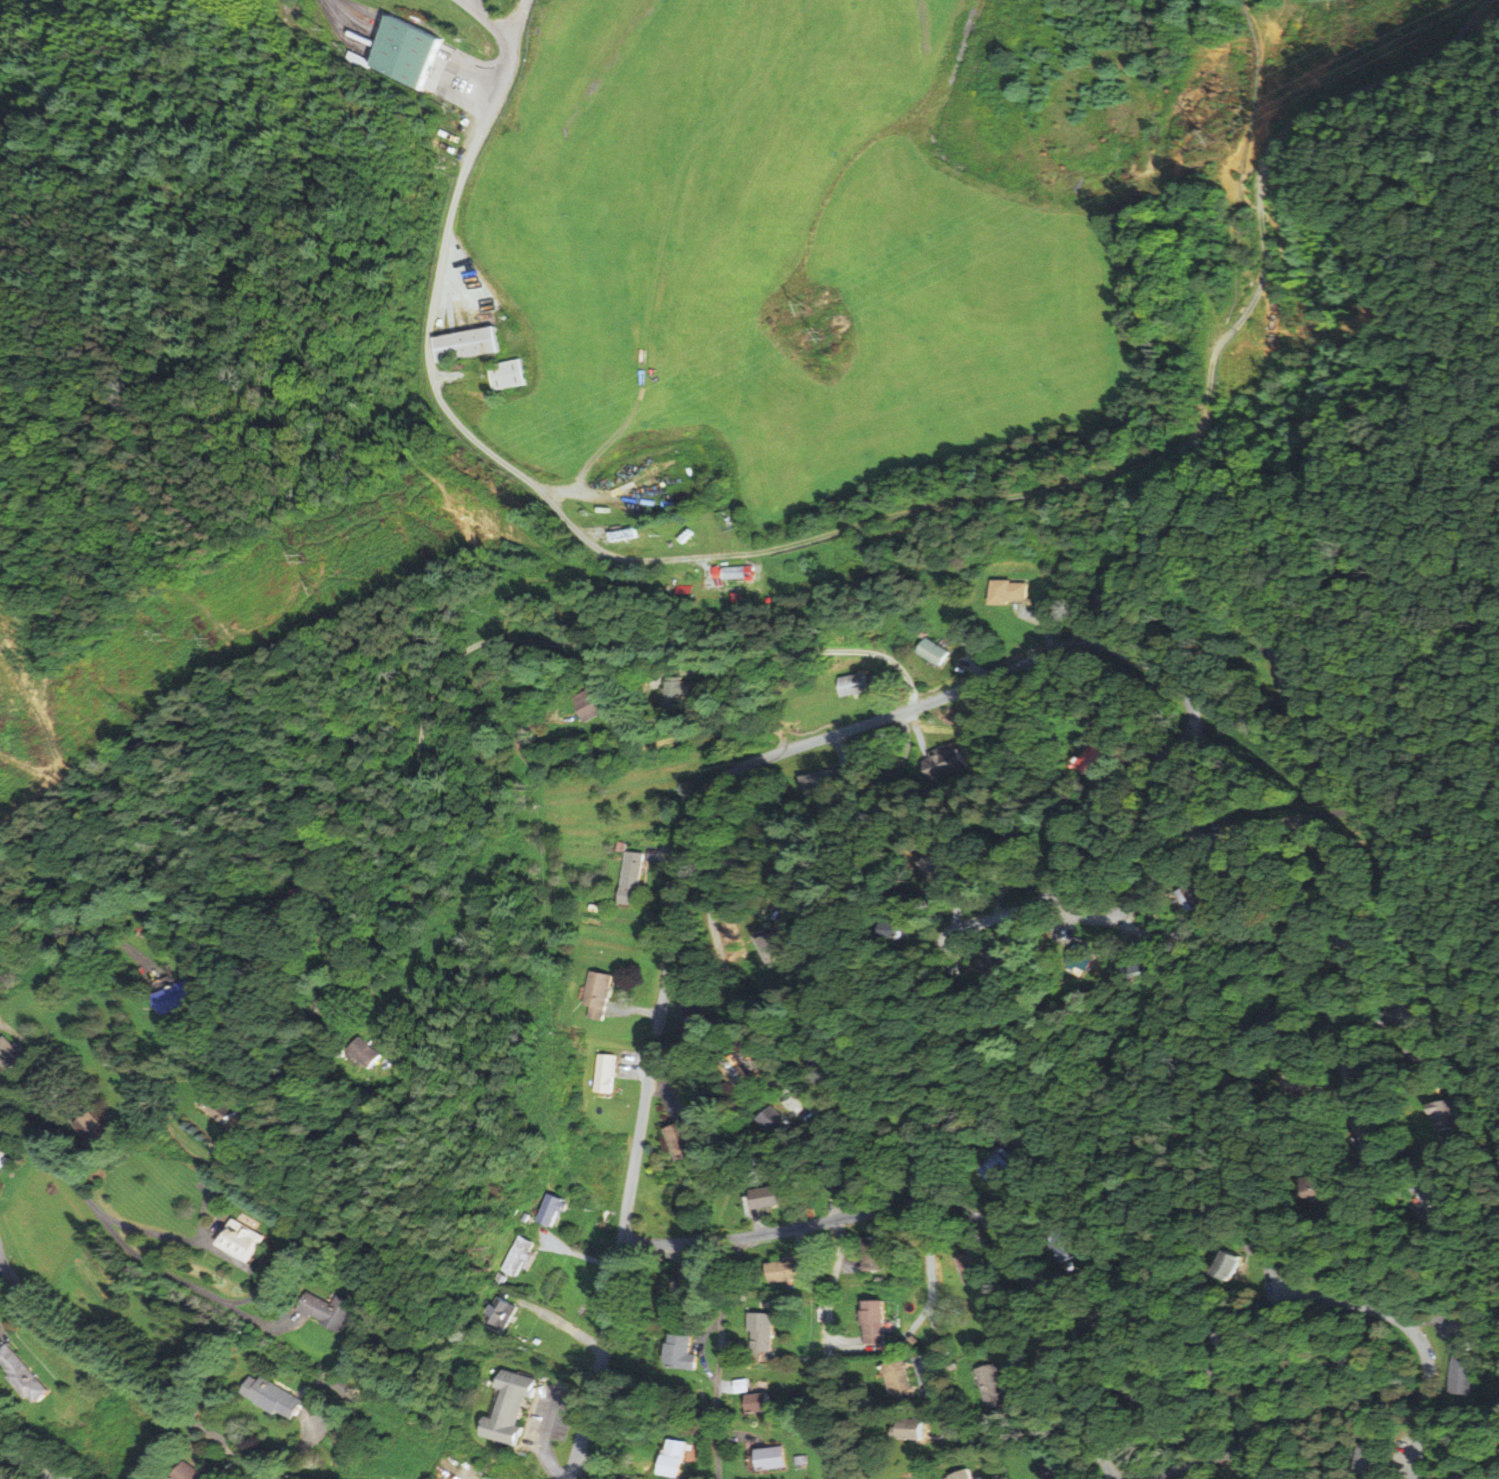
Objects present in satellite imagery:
road: (516, 18)
building: (407, 51)
road: (508, 59)
power tower: (1223, 103)
road: (1270, 107)
road: (1299, 123)
road: (1398, 189)
power tower: (808, 311)
road: (1464, 314)
building: (466, 344)
building: (508, 374)
park: (1324, 392)
road: (1231, 437)
building: (666, 477)
building: (618, 536)
road: (1320, 552)
road: (714, 557)
power tower: (332, 561)
building: (1001, 593)
road: (1205, 601)
road: (1041, 623)
power tower: (177, 631)
road: (1122, 637)
road: (500, 640)
building: (927, 653)
road: (725, 667)
road: (977, 670)
building: (855, 684)
building: (677, 691)
building: (589, 702)
road: (882, 704)
road: (915, 705)
quarry: (26, 713)
road: (918, 732)
road: (1125, 745)
road: (49, 746)
road: (840, 748)
road: (632, 749)
building: (1087, 761)
building: (945, 762)
building: (824, 783)
road: (846, 816)
road: (1193, 825)
road: (1310, 840)
building: (620, 846)
building: (1017, 846)
road: (665, 855)
building: (942, 859)
road: (1136, 859)
road: (1180, 868)
building: (632, 878)
building: (1194, 894)
building: (304, 902)
road: (1008, 914)
building: (900, 929)
road: (37, 946)
building: (782, 947)
building: (767, 948)
road: (1299, 950)
building: (1002, 963)
building: (598, 993)
building: (180, 996)
building: (346, 1002)
building: (333, 1003)
road: (634, 1012)
building: (809, 1018)
building: (693, 1025)
building: (378, 1050)
building: (7, 1052)
building: (366, 1052)
road: (634, 1066)
building: (828, 1068)
building: (731, 1072)
building: (743, 1072)
building: (605, 1073)
road: (777, 1075)
road: (663, 1097)
building: (220, 1107)
building: (212, 1110)
building: (1446, 1116)
building: (779, 1121)
building: (761, 1123)
building: (92, 1128)
road: (180, 1133)
building: (683, 1140)
building: (0, 1155)
building: (999, 1167)
building: (849, 1175)
building: (775, 1196)
road: (1409, 1201)
road: (838, 1205)
road: (947, 1205)
building: (551, 1209)
road: (756, 1216)
building: (524, 1217)
road: (117, 1237)
road: (1478, 1237)
building: (243, 1240)
road: (799, 1241)
building: (1069, 1243)
road: (577, 1253)
building: (875, 1253)
building: (519, 1255)
road: (1268, 1263)
road: (849, 1264)
building: (977, 1265)
building: (1234, 1265)
road: (833, 1267)
building: (1218, 1268)
building: (789, 1270)
road: (1066, 1271)
road: (1076, 1273)
building: (691, 1285)
road: (1069, 1307)
building: (329, 1310)
building: (503, 1313)
building: (875, 1321)
building: (1114, 1321)
road: (1441, 1323)
road: (564, 1326)
building: (763, 1331)
building: (1231, 1338)
road: (1418, 1340)
road: (835, 1341)
road: (1028, 1346)
building: (685, 1353)
road: (720, 1357)
building: (22, 1372)
building: (1463, 1374)
road: (120, 1377)
building: (901, 1379)
building: (994, 1386)
building: (1138, 1390)
building: (273, 1395)
road: (1232, 1398)
building: (761, 1403)
building: (511, 1406)
parking lot: (549, 1416)
road: (550, 1420)
road: (1151, 1424)
building: (911, 1429)
road: (966, 1430)
road: (1404, 1444)
building: (675, 1457)
building: (1375, 1457)
building: (771, 1458)
road: (30, 1461)
road: (1251, 1463)
road: (549, 1464)
road: (1194, 1464)
road: (601, 1467)
building: (1056, 1469)
road: (586, 1470)
road: (1199, 1471)
building: (190, 1472)
building: (962, 1475)
building: (972, 1475)

